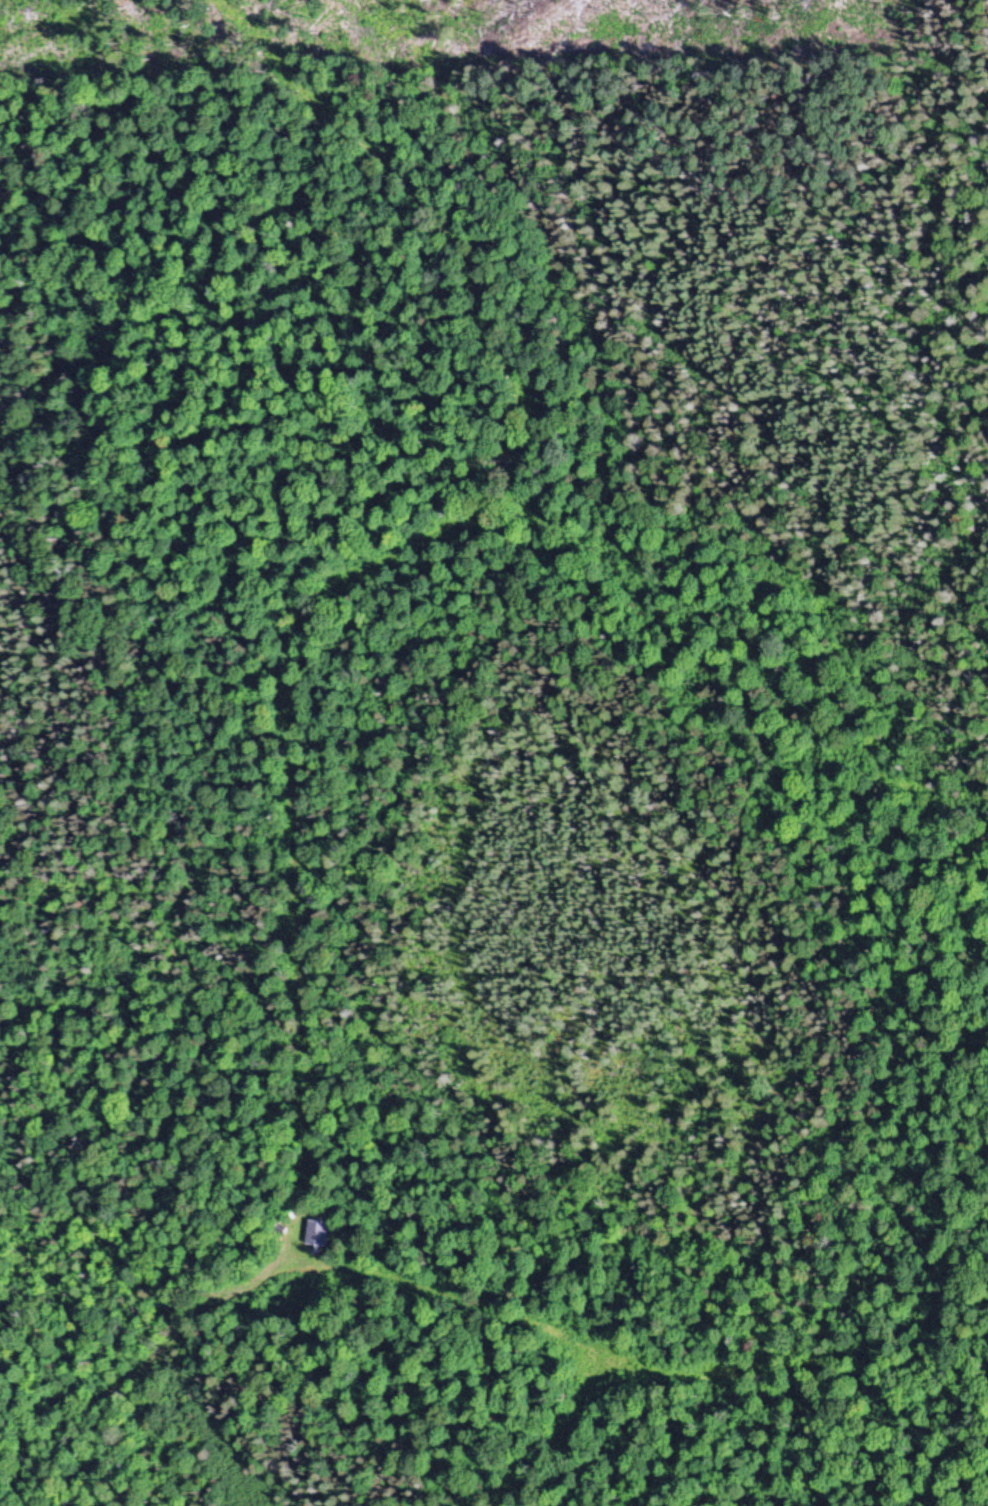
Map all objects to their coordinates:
building: (321, 1234)

